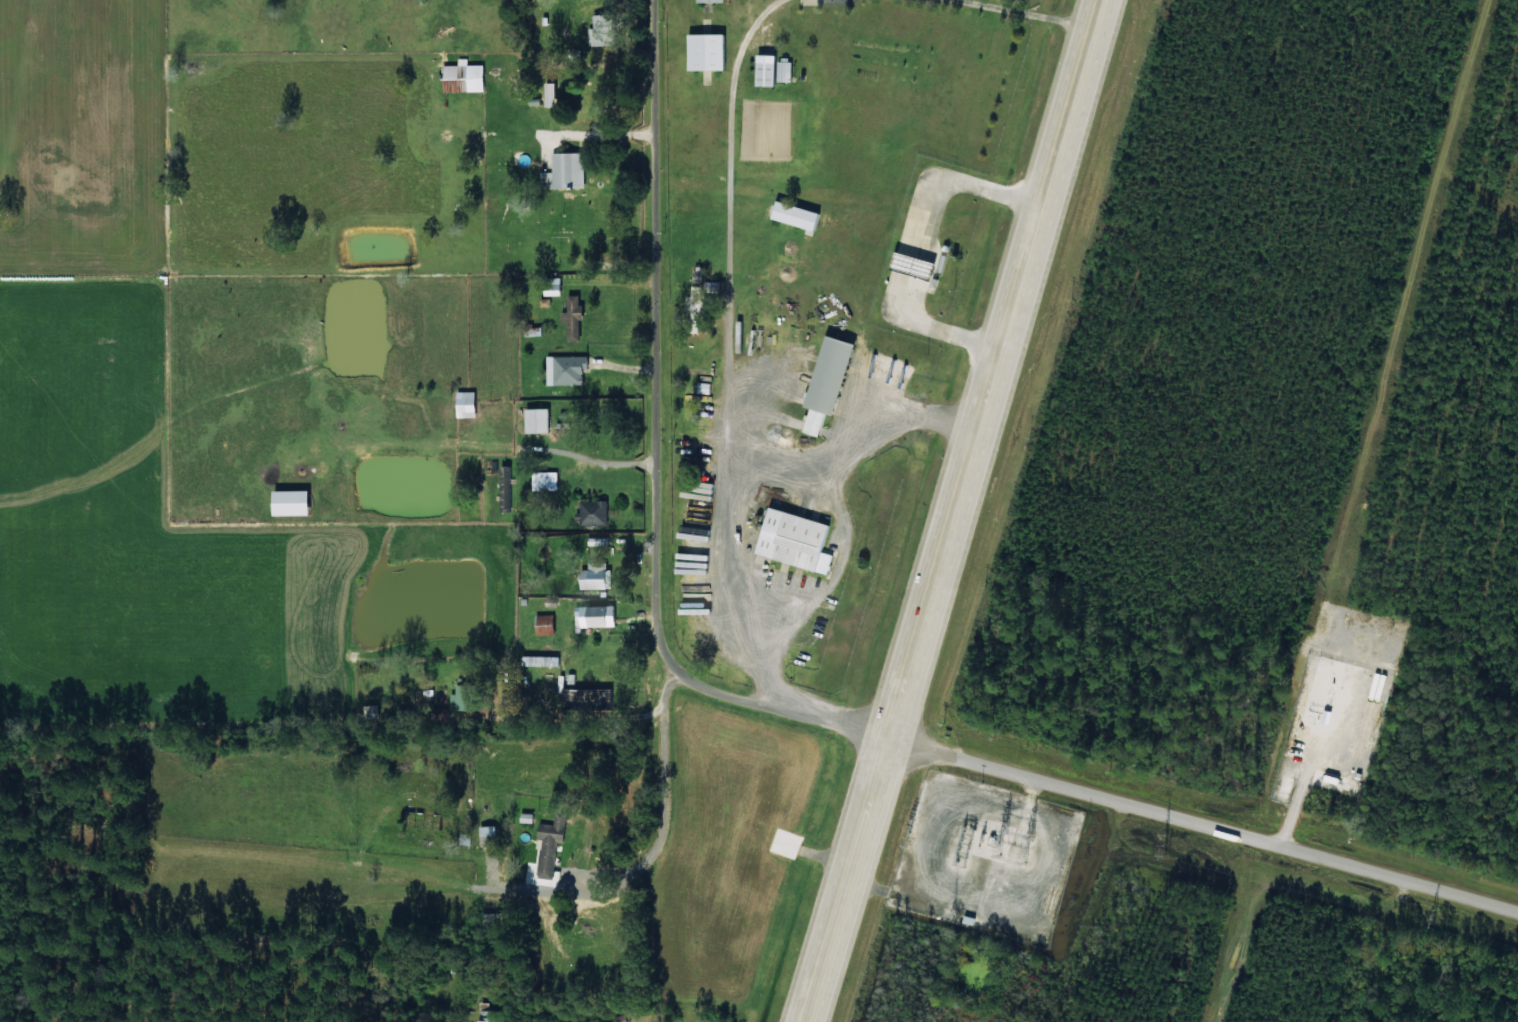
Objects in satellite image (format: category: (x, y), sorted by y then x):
building: (706, 0)
building: (703, 51)
building: (762, 69)
building: (783, 71)
building: (462, 76)
building: (547, 94)
building: (563, 171)
building: (794, 215)
building: (696, 274)
building: (550, 290)
building: (573, 317)
building: (564, 370)
building: (824, 382)
building: (463, 404)
building: (535, 420)
road: (658, 455)
building: (537, 481)
building: (287, 502)
road: (954, 511)
building: (591, 512)
building: (792, 540)
building: (597, 541)
building: (594, 576)
building: (595, 616)
building: (543, 625)
building: (584, 699)
road: (666, 811)
building: (525, 817)
road: (1204, 825)
building: (485, 834)
building: (464, 839)
building: (549, 848)
power substation: (984, 859)
road: (1382, 951)
building: (494, 1019)

